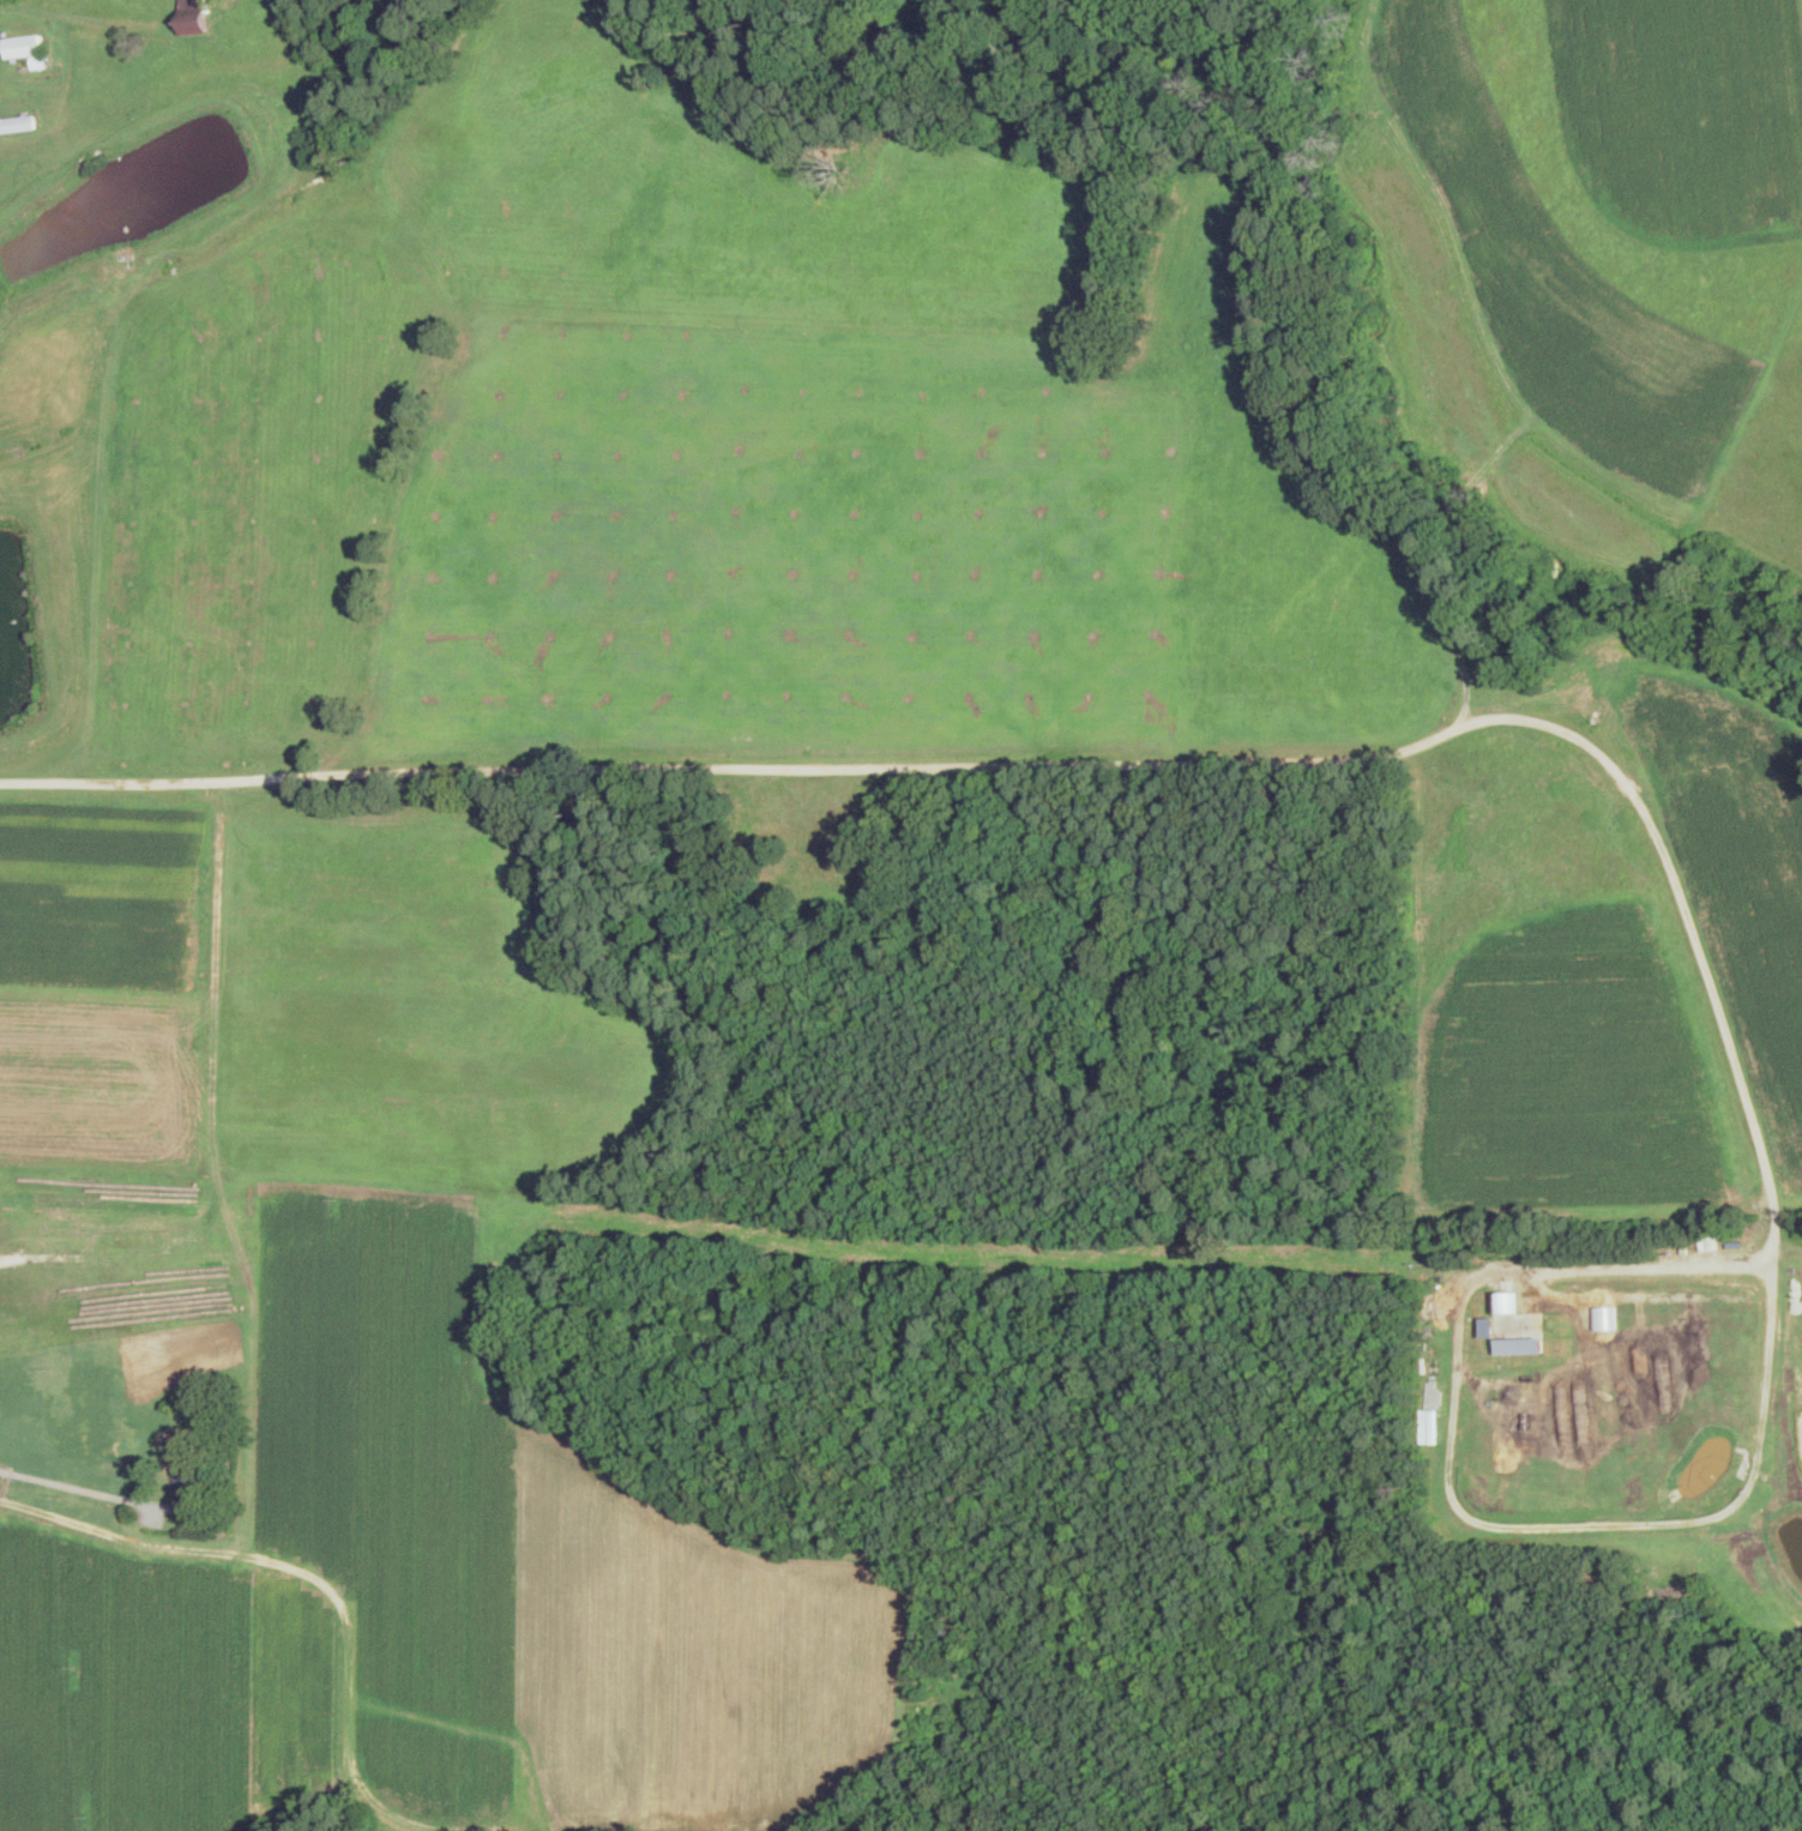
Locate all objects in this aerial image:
building: (194, 17)
road: (76, 18)
building: (24, 46)
building: (20, 124)
crop: (980, 704)
road: (1079, 766)
road: (1462, 1295)
building: (1507, 1301)
building: (1603, 1317)
building: (1519, 1344)
building: (193, 1398)
road: (1753, 1477)
building: (188, 1486)
road: (80, 1487)
road: (264, 1561)

